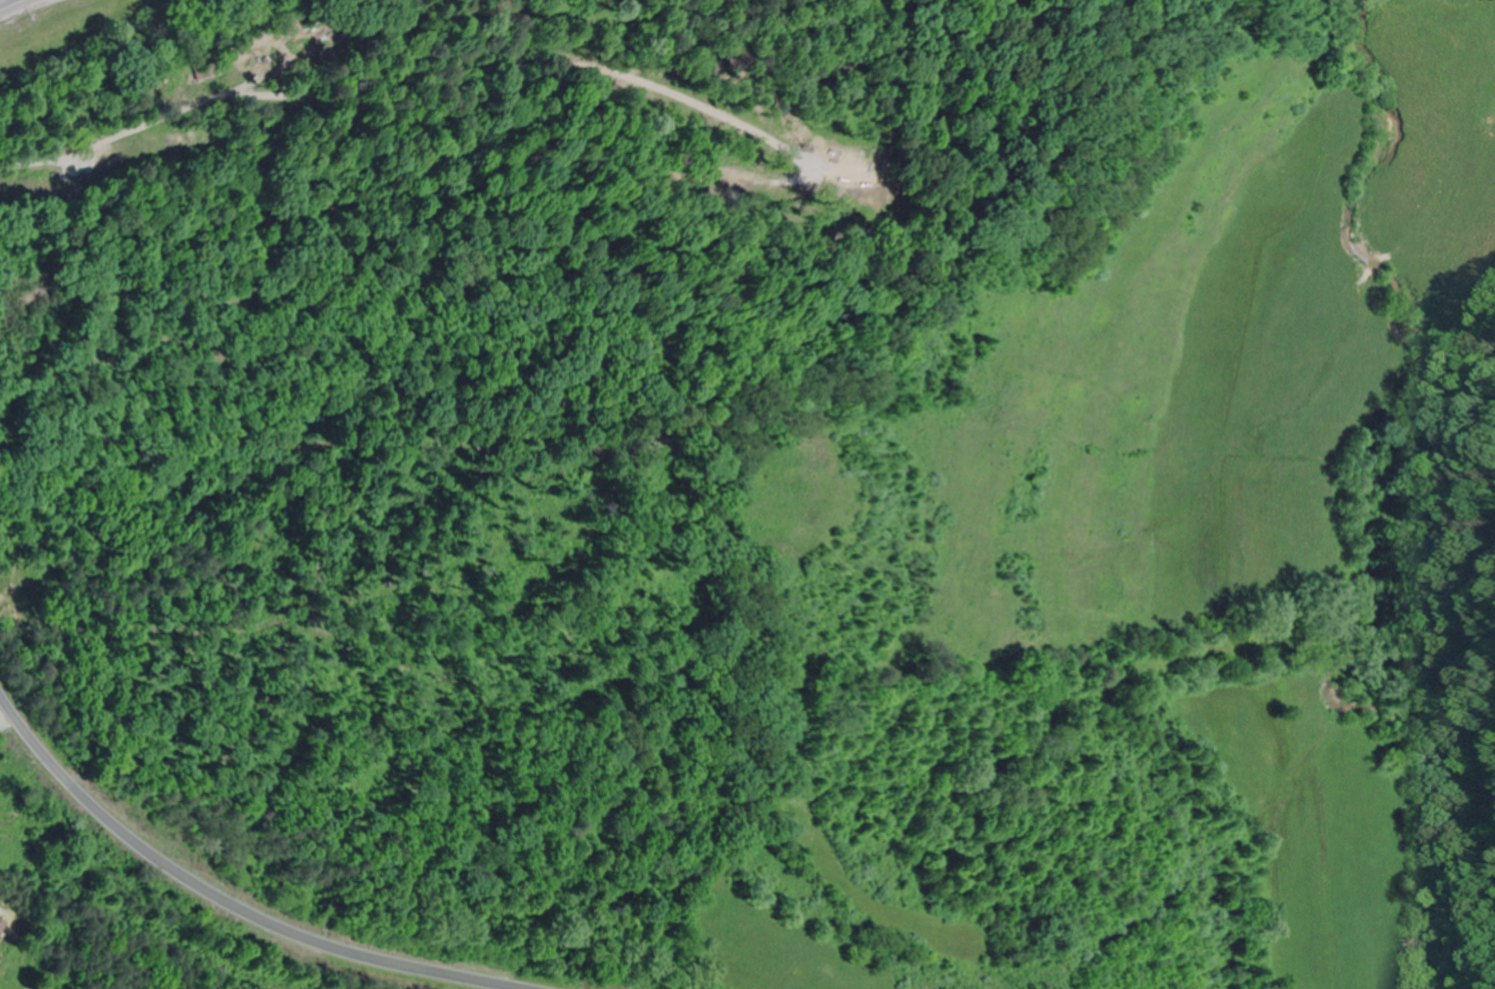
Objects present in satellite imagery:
road: (13, 5)
road: (122, 102)
road: (1431, 568)
road: (4, 712)
road: (221, 901)

